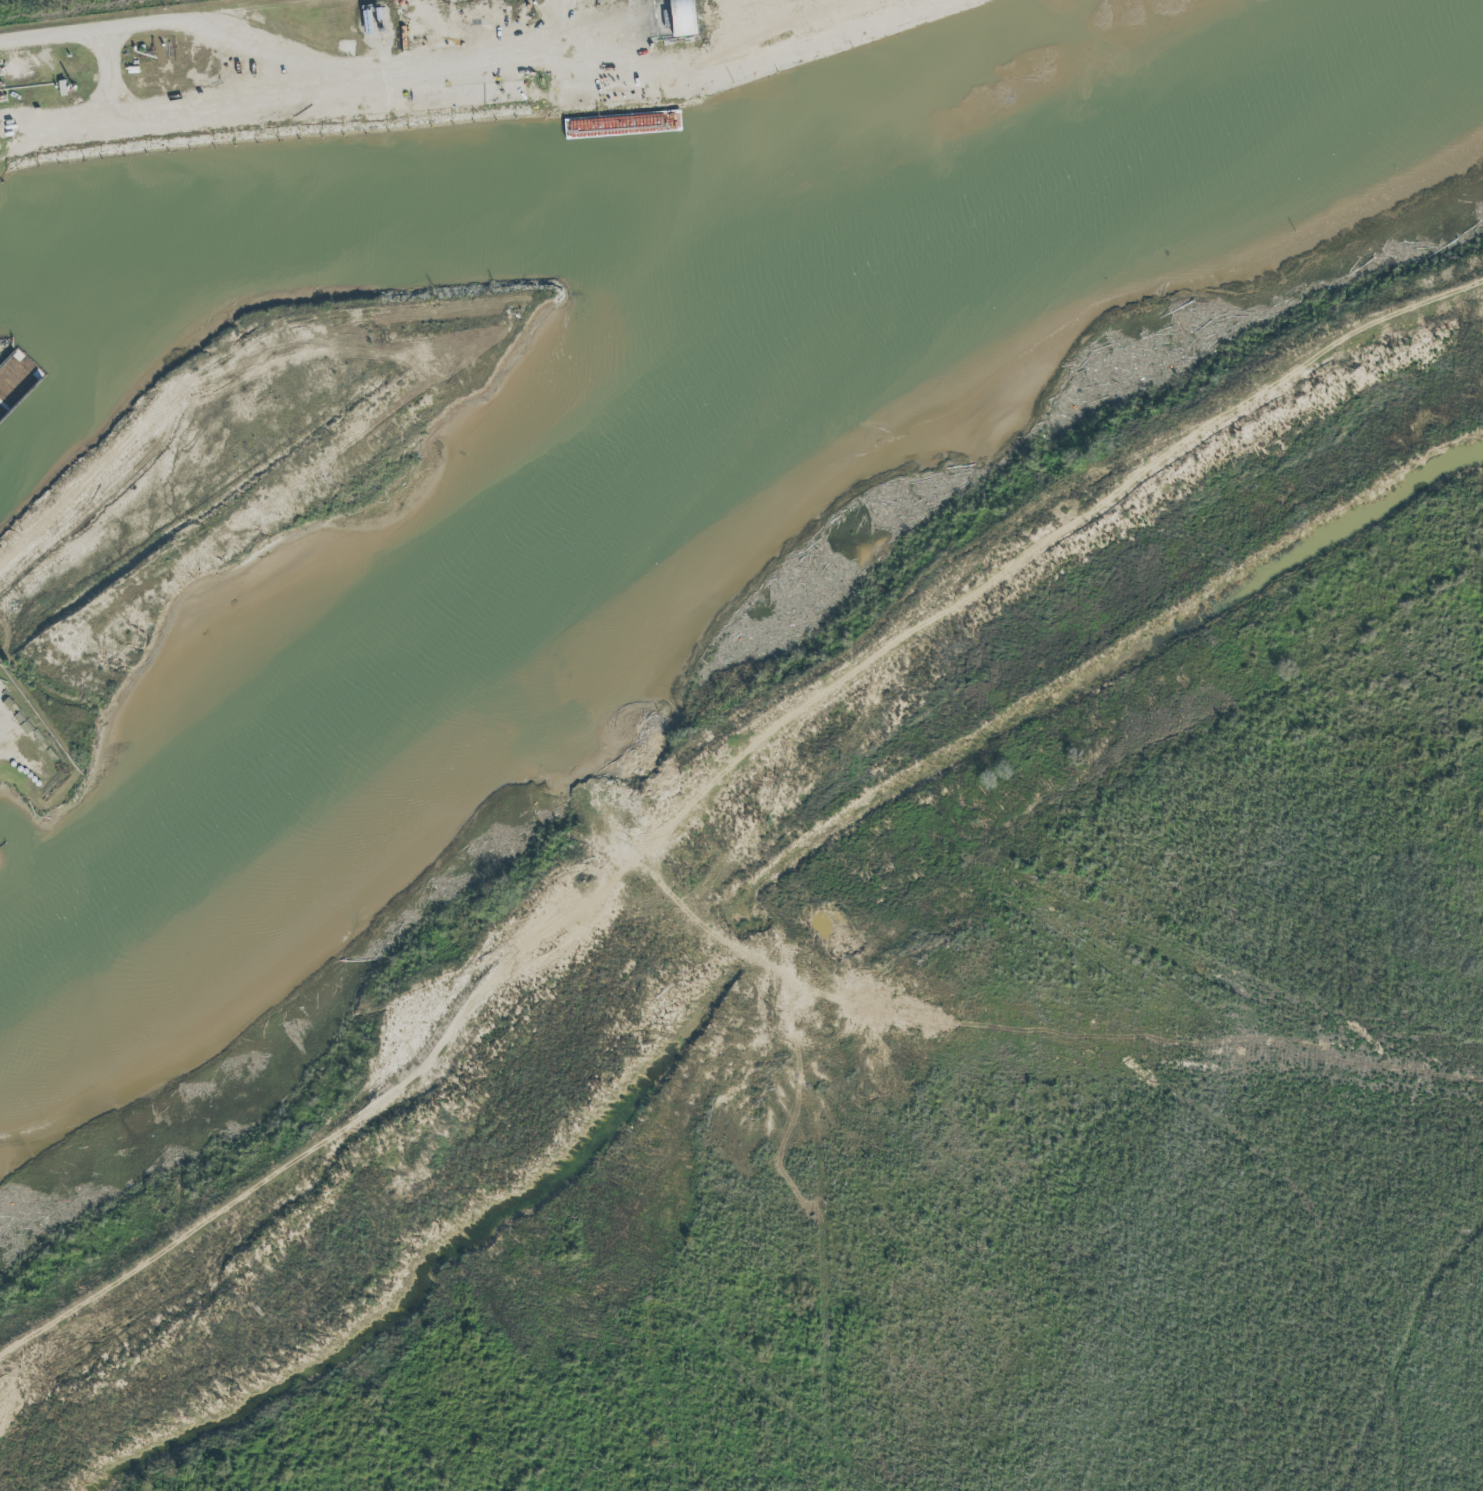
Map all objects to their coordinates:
road: (296, 49)
building: (52, 182)
road: (31, 771)

